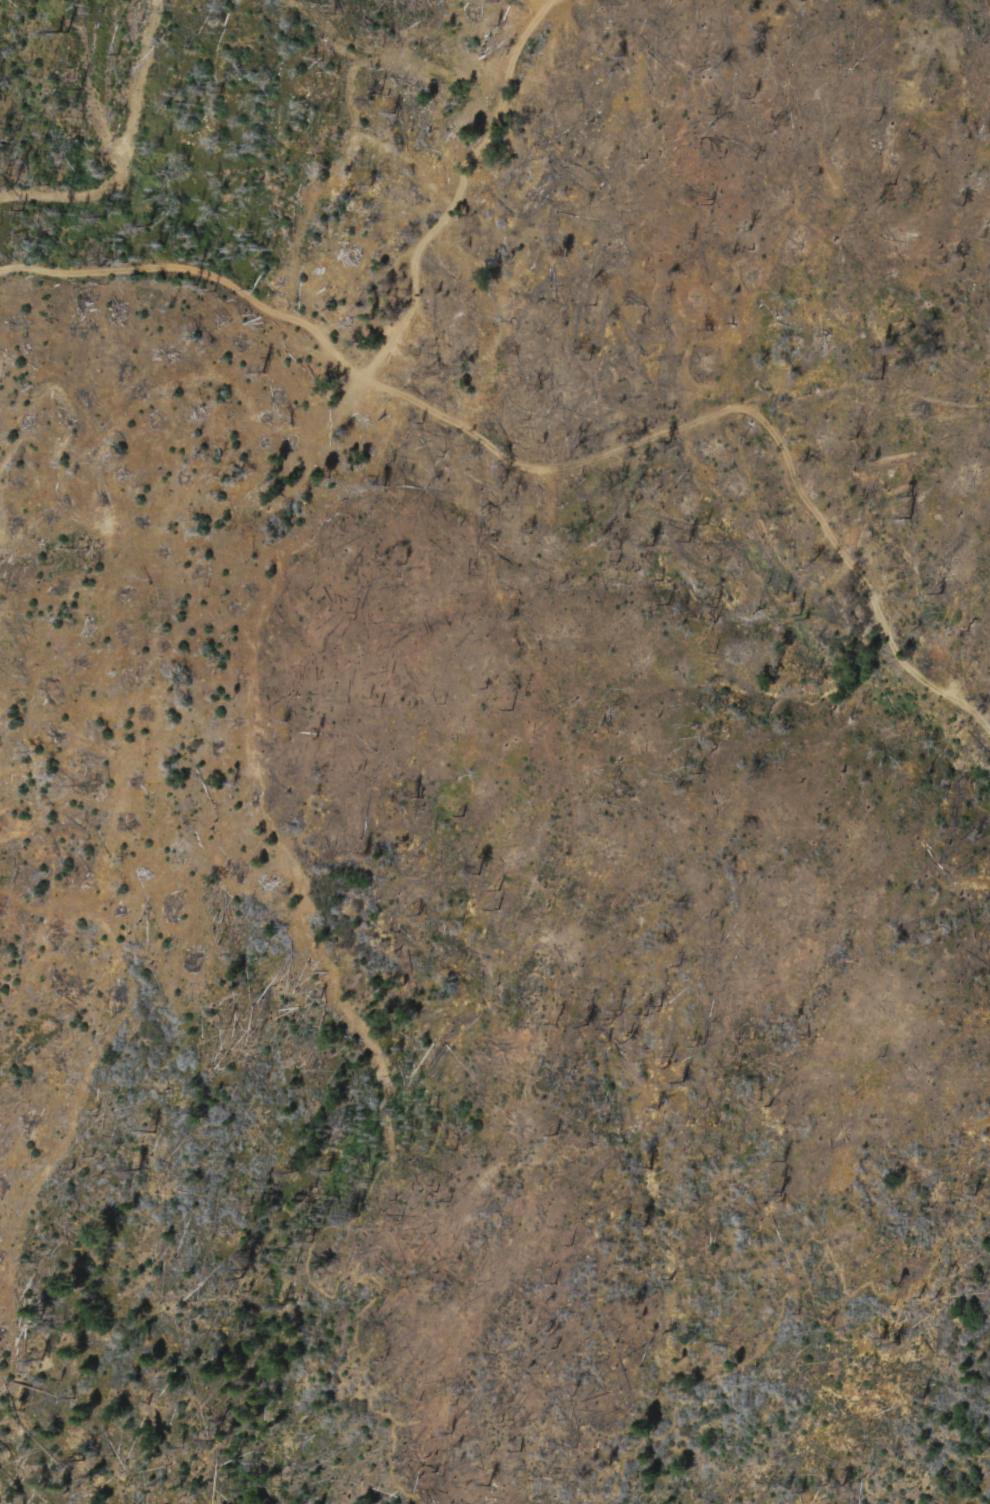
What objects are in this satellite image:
road: (125, 146)
road: (459, 197)
road: (556, 475)

